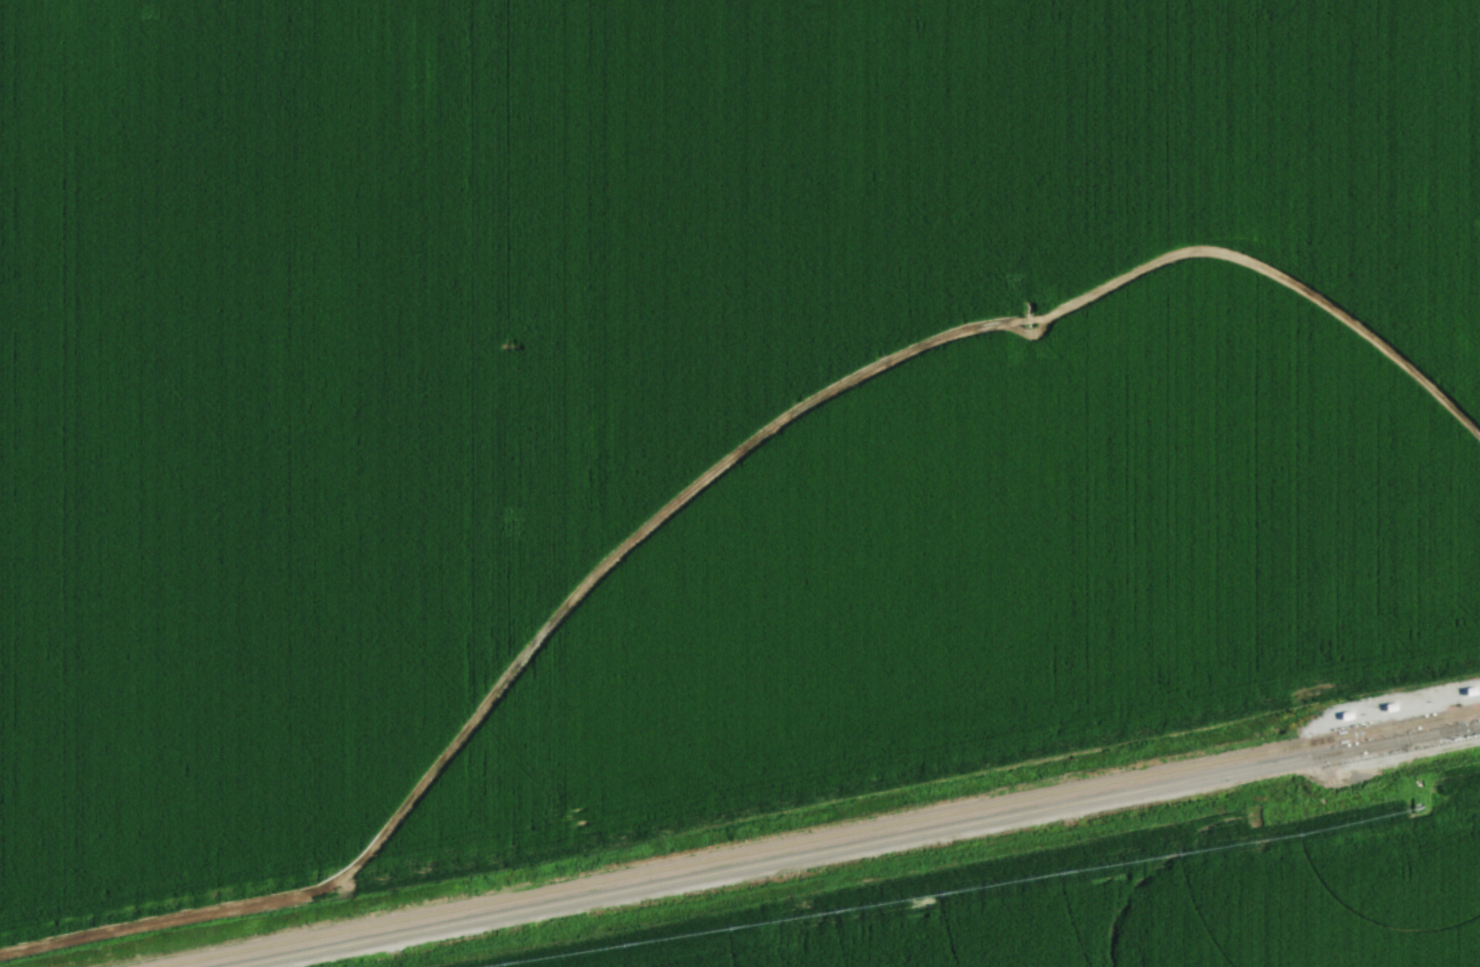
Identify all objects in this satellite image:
crop: (560, 323)
crop: (1002, 569)
railway: (806, 836)
railway: (853, 845)

